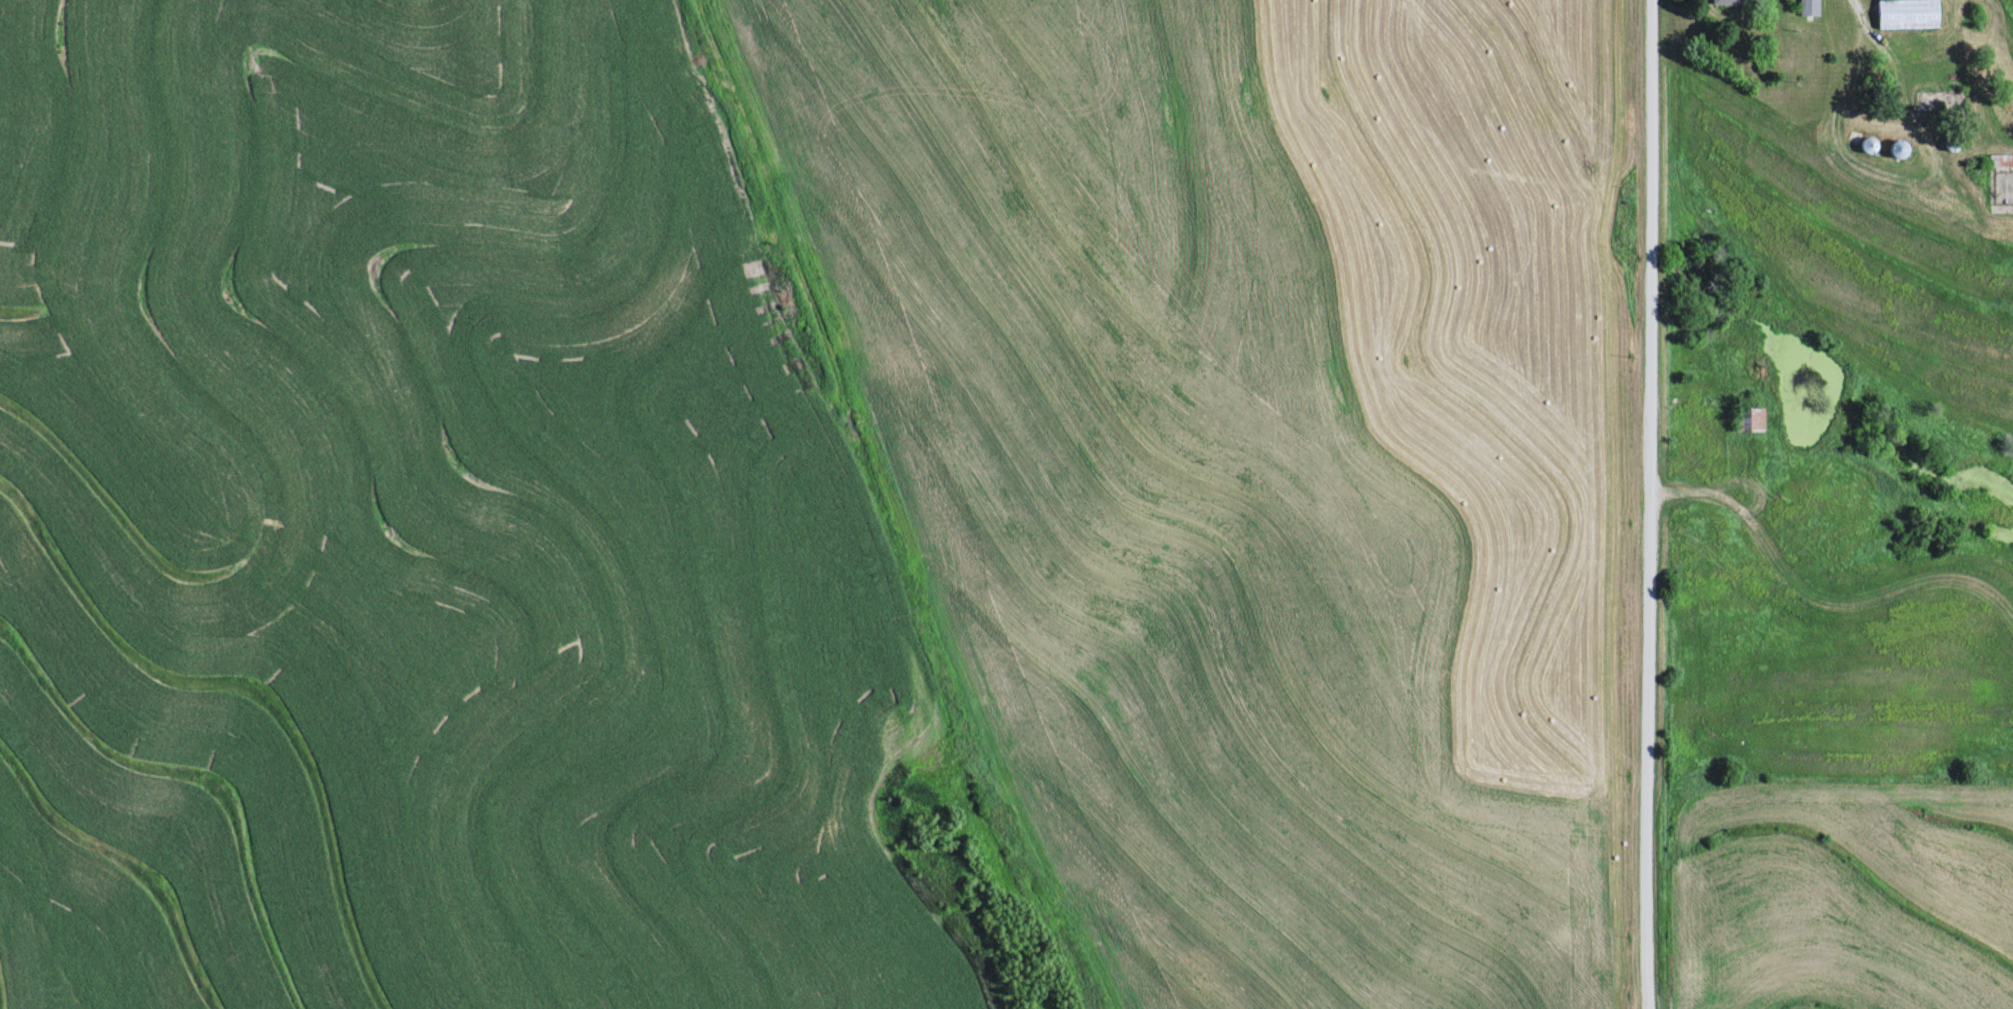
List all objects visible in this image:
building: (1728, 1)
building: (1812, 7)
building: (1901, 14)
building: (1892, 148)
building: (1745, 415)
road: (1648, 504)

